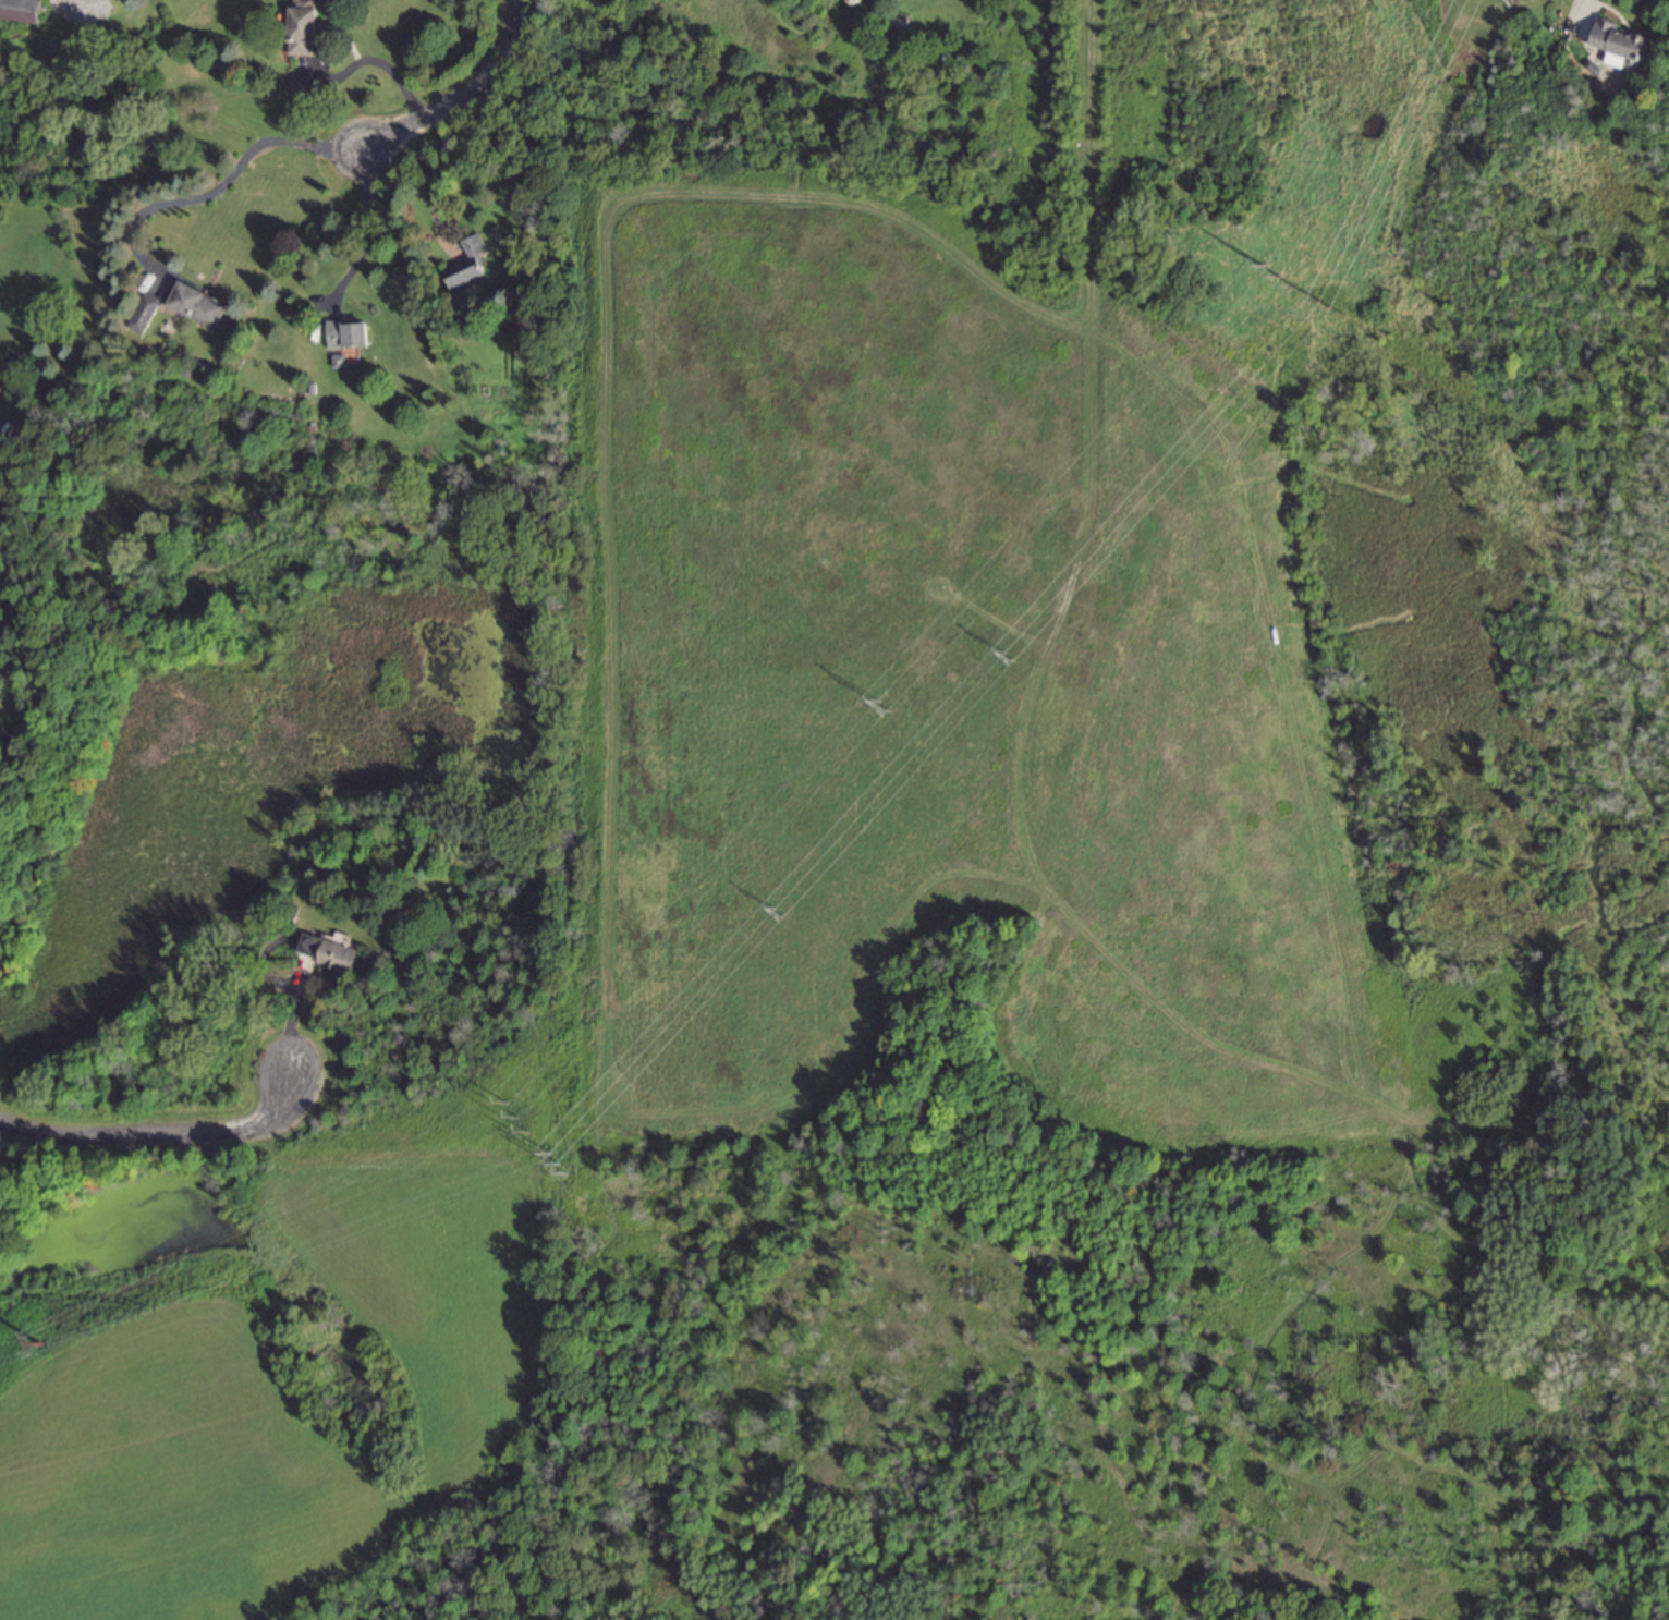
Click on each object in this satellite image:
building: (23, 11)
building: (306, 29)
building: (1621, 45)
road: (375, 62)
road: (462, 95)
road: (440, 178)
road: (222, 184)
road: (366, 236)
building: (470, 265)
power tower: (1278, 277)
building: (200, 306)
power tower: (1337, 312)
building: (146, 314)
building: (351, 337)
power tower: (1011, 659)
power tower: (886, 710)
power tower: (782, 916)
building: (328, 954)
road: (291, 1022)
power tower: (513, 1116)
road: (159, 1134)
power tower: (556, 1165)
power tower: (41, 1345)

